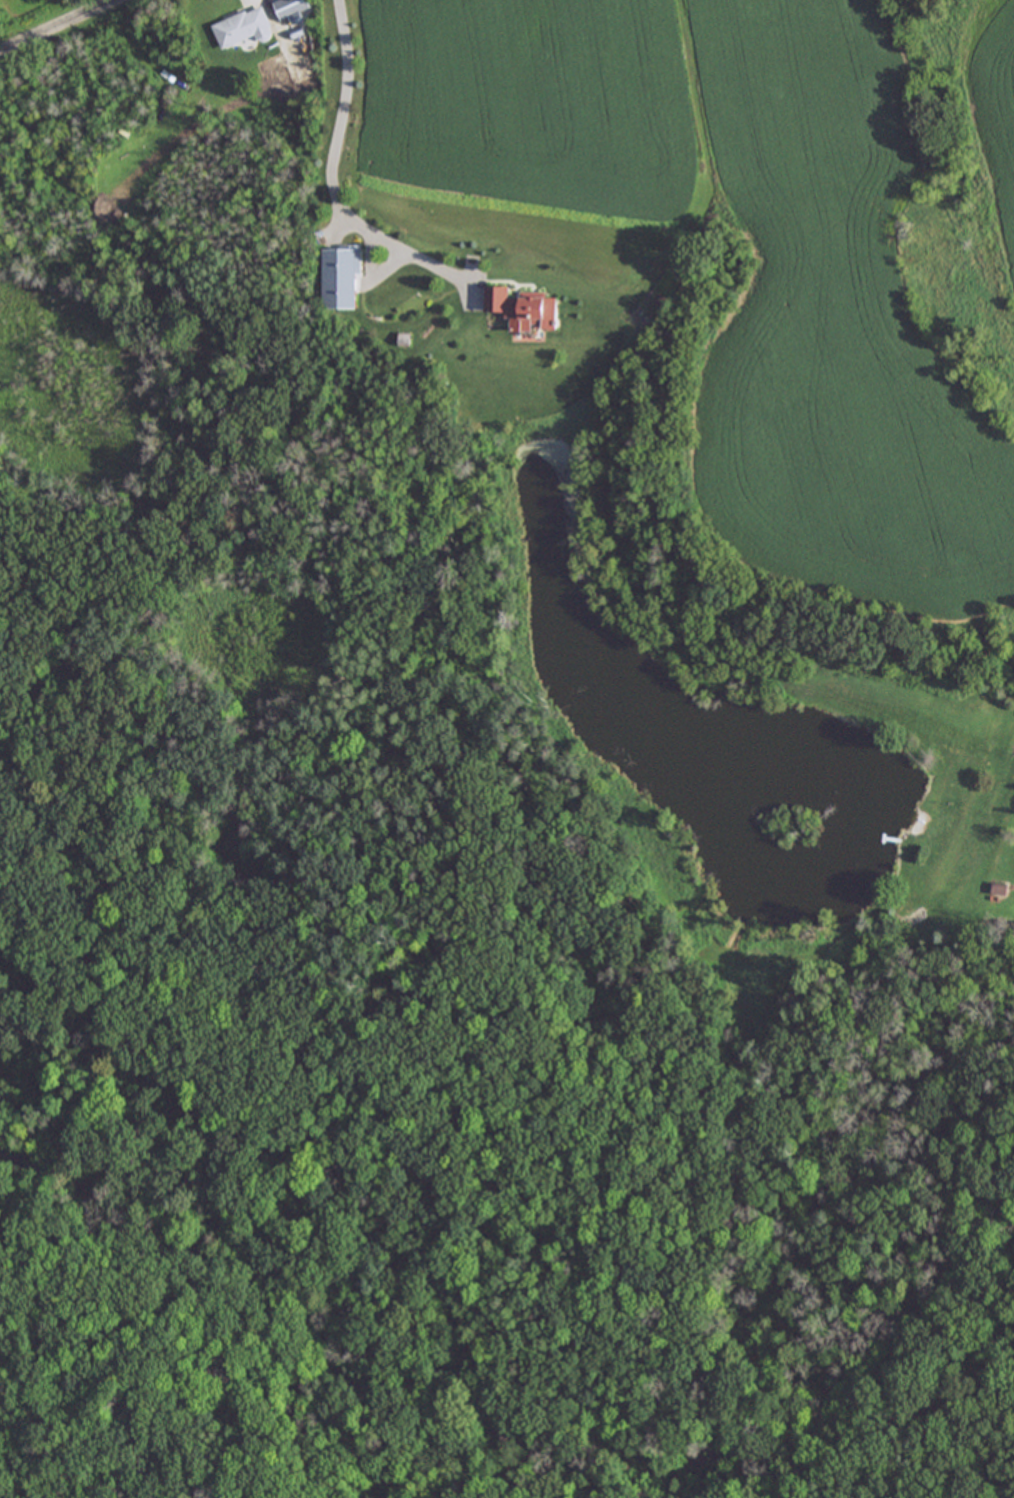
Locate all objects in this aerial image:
building: (290, 7)
building: (241, 26)
road: (78, 34)
road: (333, 175)
building: (341, 277)
building: (522, 308)

